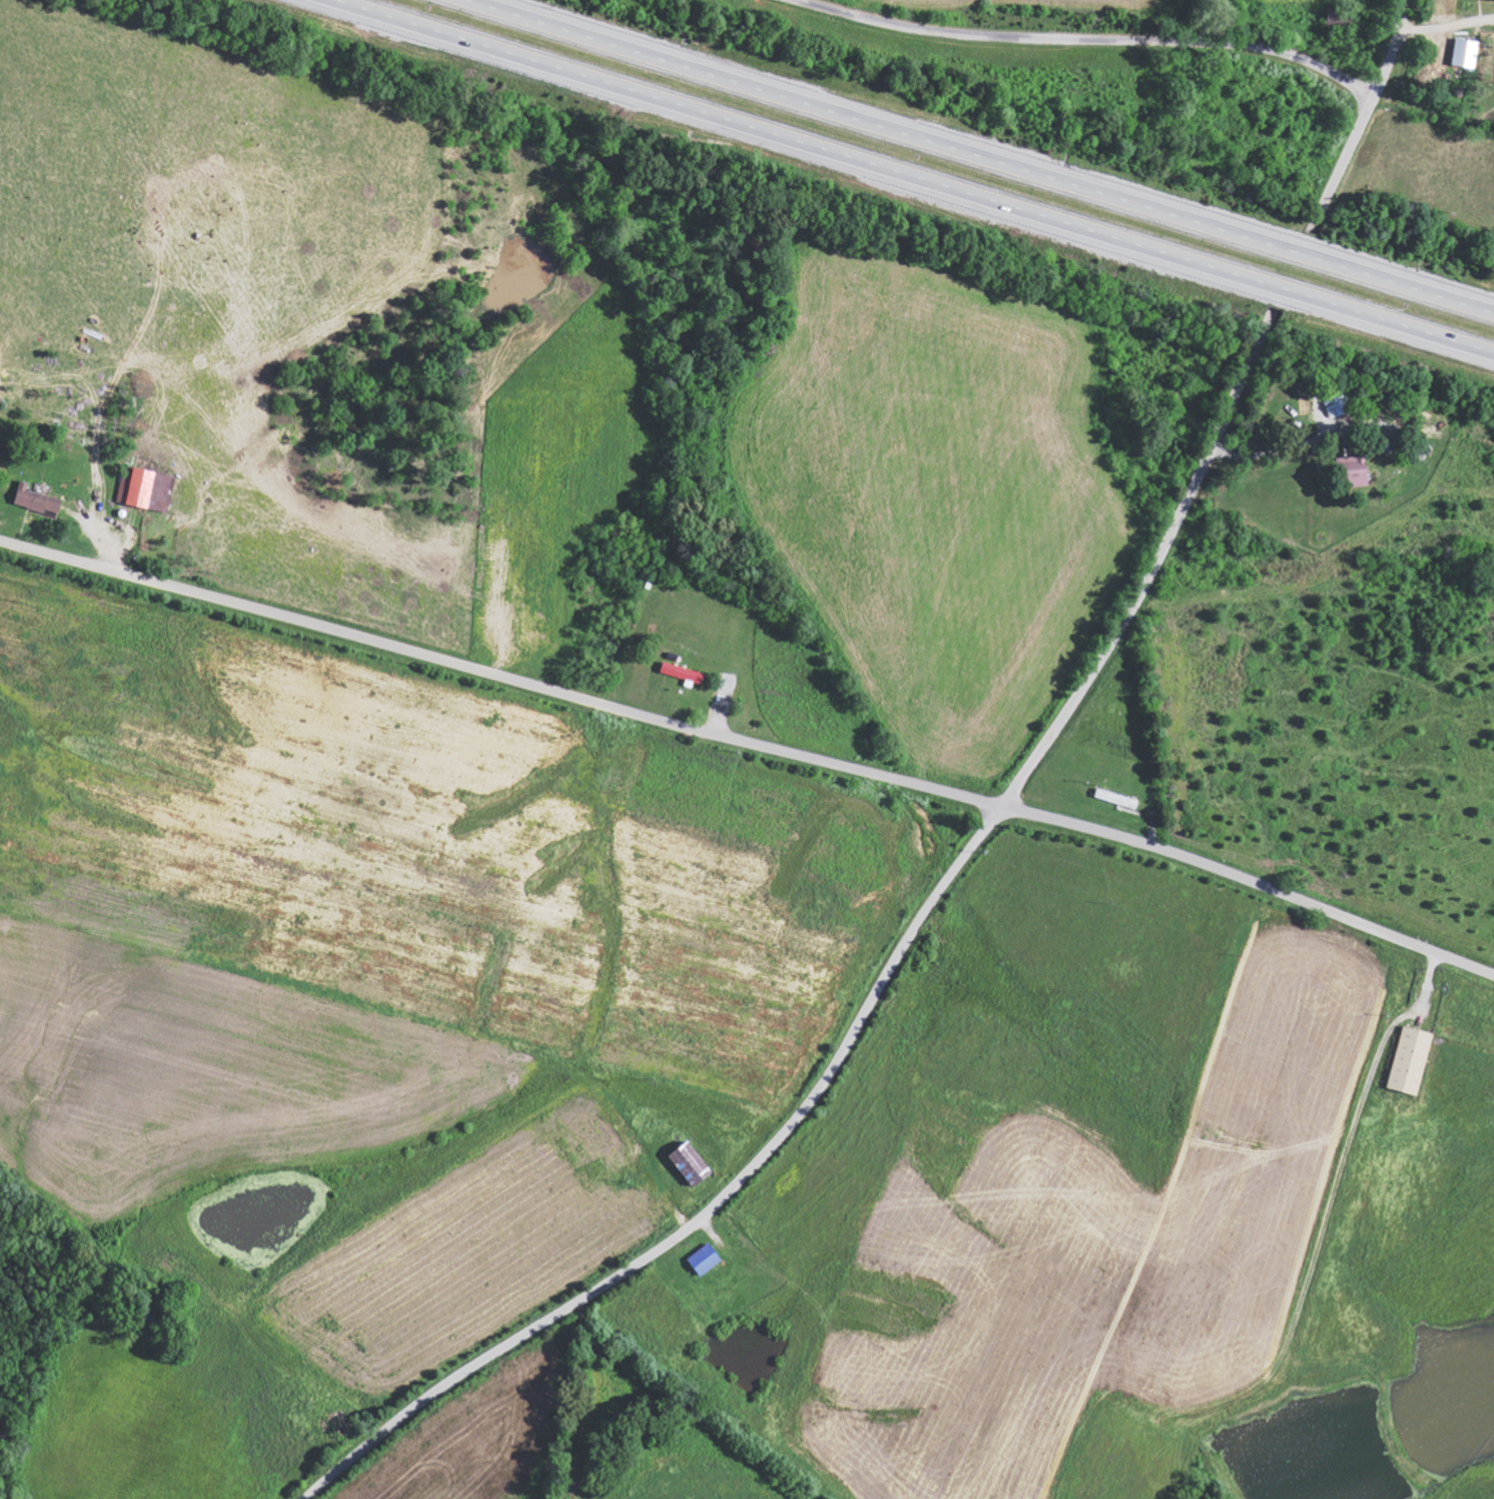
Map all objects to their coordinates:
road: (1087, 40)
building: (1466, 52)
road: (1365, 114)
road: (984, 155)
road: (917, 176)
building: (1355, 468)
building: (148, 489)
building: (37, 499)
building: (683, 672)
road: (752, 744)
road: (878, 988)
building: (1410, 1060)
building: (690, 1163)
building: (705, 1259)

